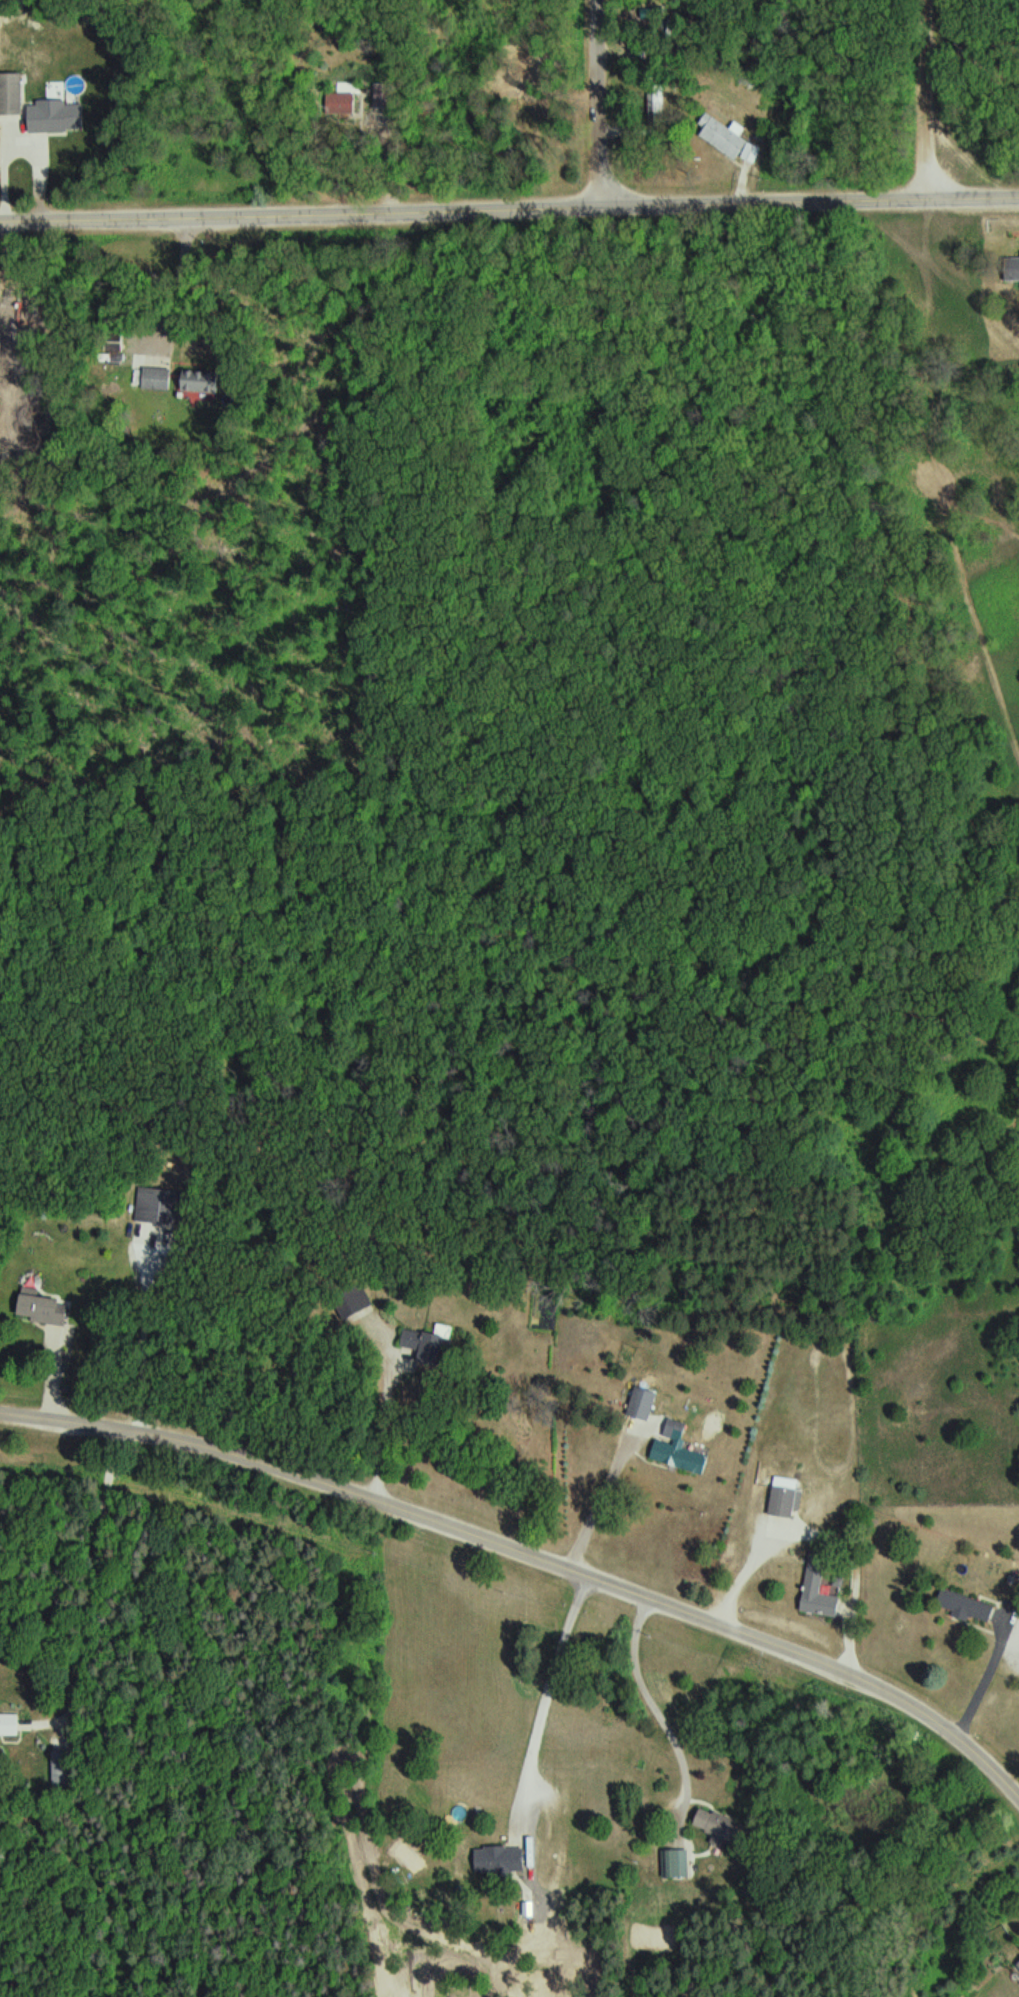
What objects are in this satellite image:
building: (12, 93)
road: (930, 100)
building: (343, 102)
road: (601, 104)
building: (658, 106)
building: (58, 118)
building: (731, 138)
road: (975, 199)
road: (466, 210)
building: (1013, 268)
park: (938, 908)
building: (354, 1299)
building: (41, 1304)
building: (426, 1342)
building: (644, 1404)
building: (681, 1449)
building: (788, 1502)
road: (531, 1553)
road: (98, 1577)
building: (821, 1588)
building: (968, 1605)
building: (10, 1724)
building: (720, 1824)
building: (503, 1858)
building: (684, 1863)

